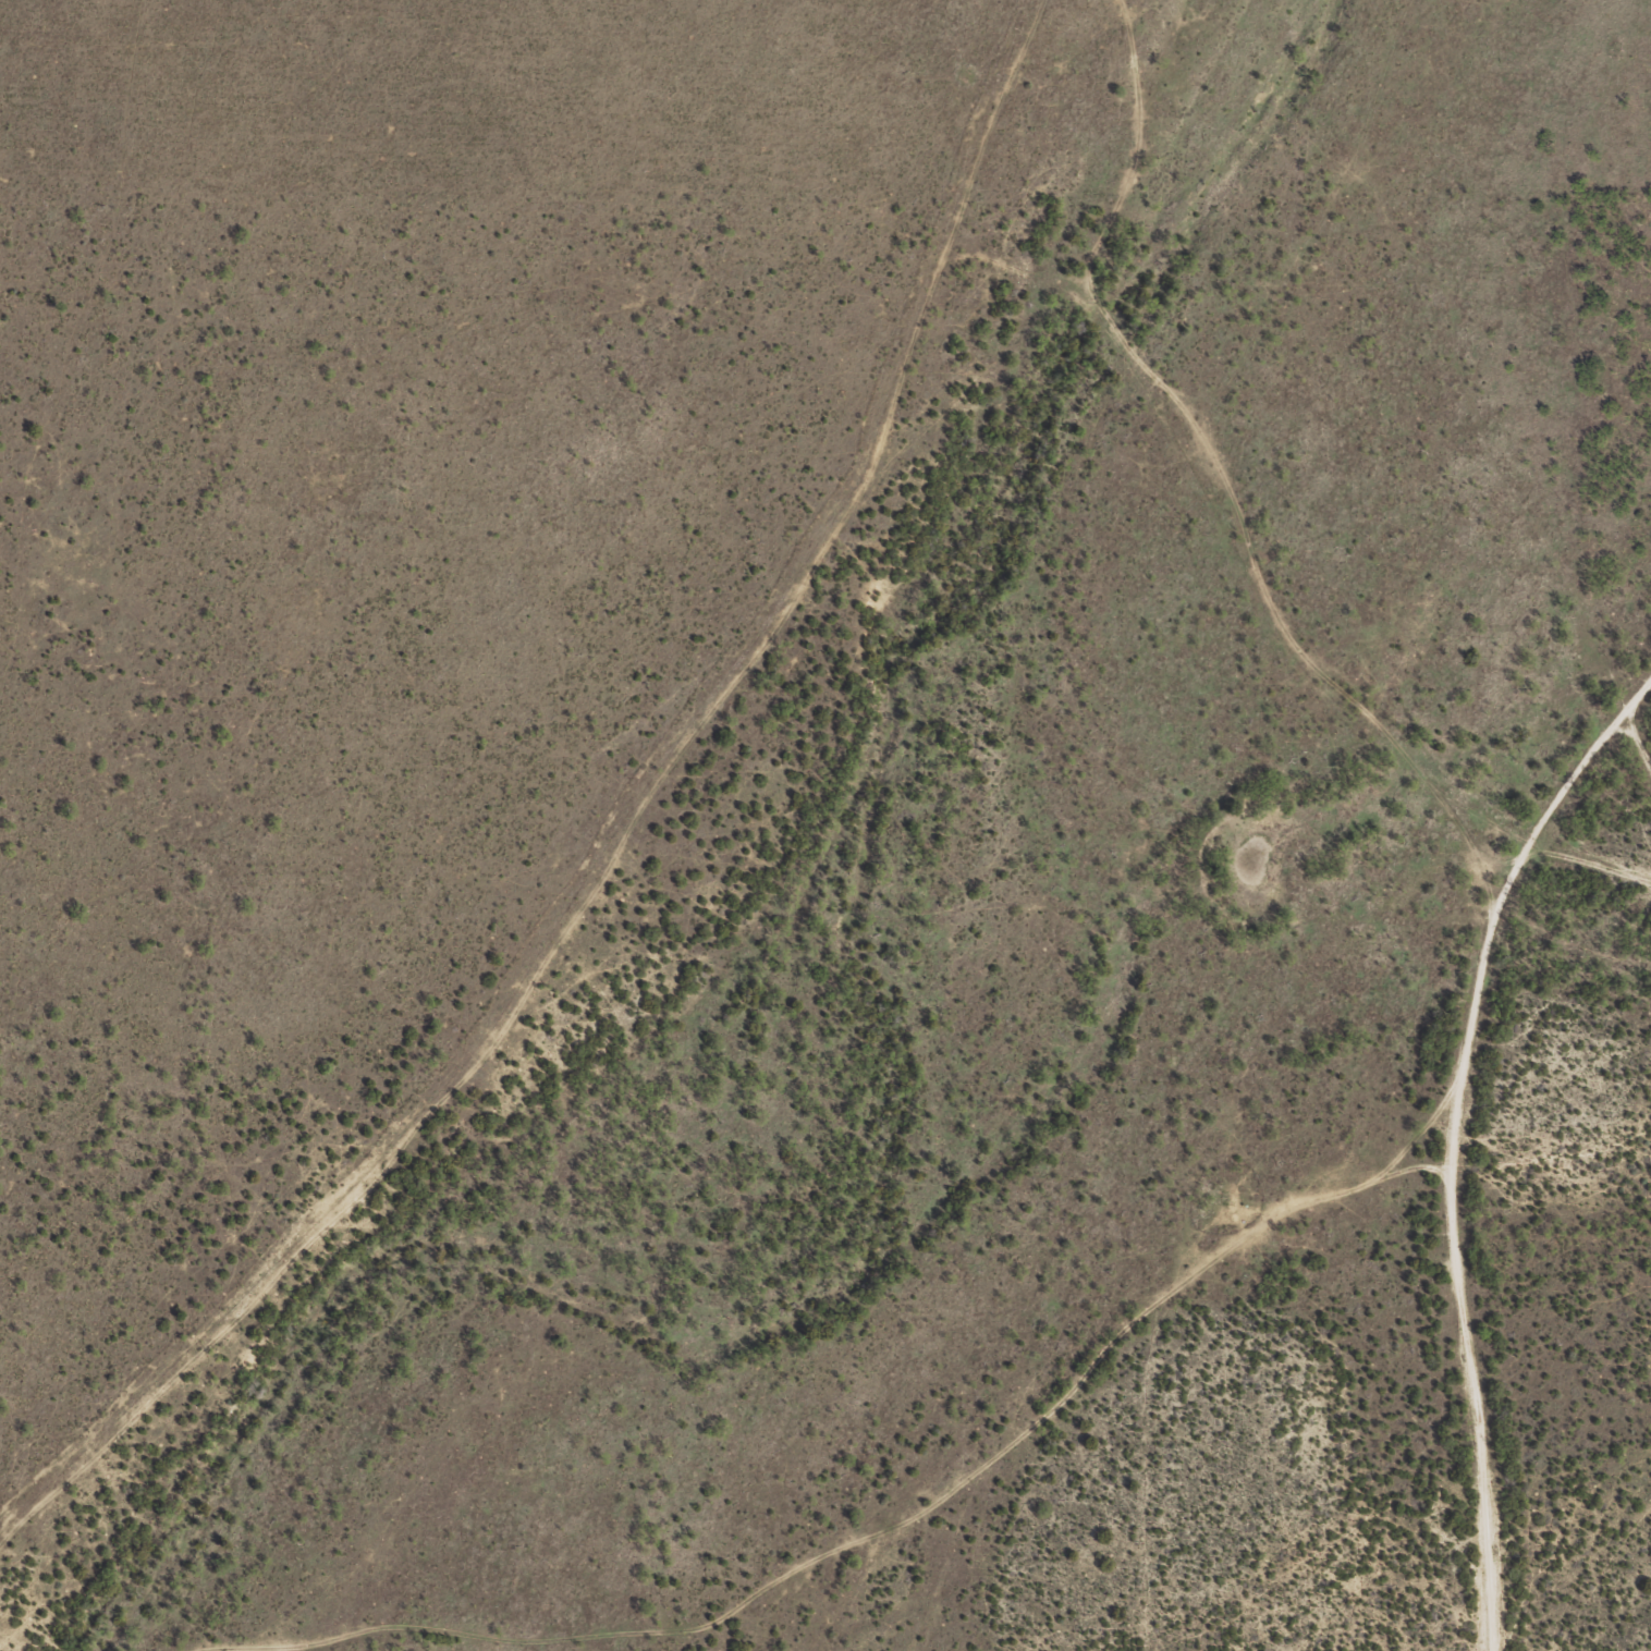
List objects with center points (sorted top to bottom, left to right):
road: (1640, 774)
road: (1453, 790)
road: (1589, 811)

